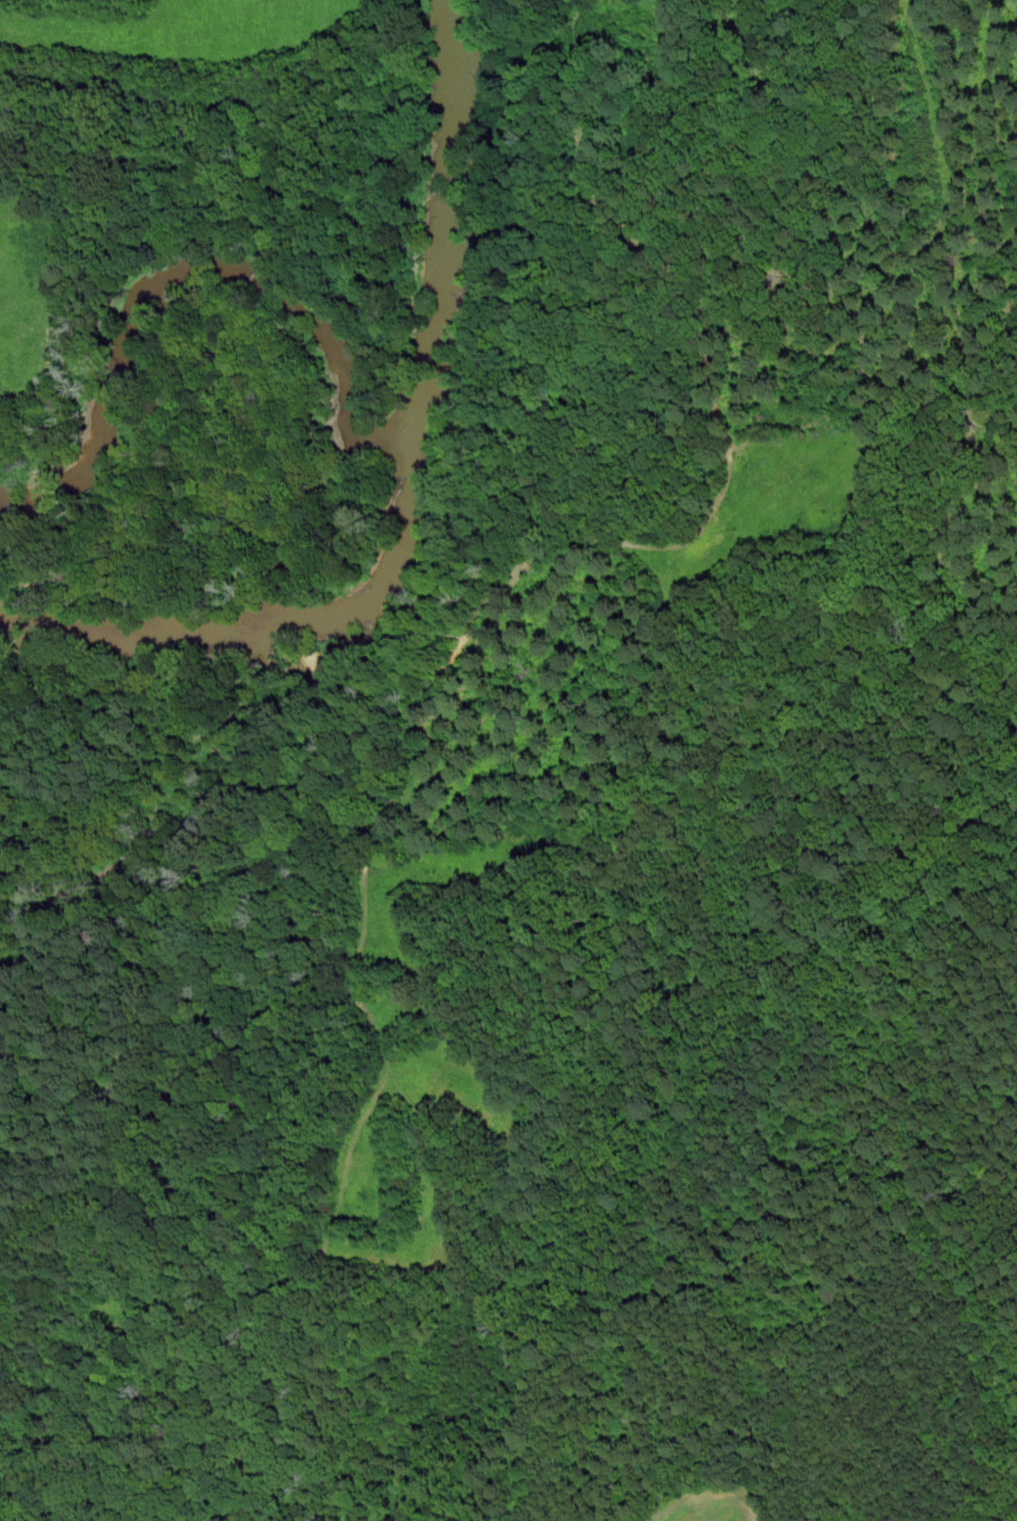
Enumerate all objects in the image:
river: (192, 279)
road: (670, 330)
river: (409, 498)
road: (656, 541)
road: (476, 625)
road: (356, 813)
road: (384, 824)
road: (369, 1009)
road: (356, 1135)
road: (475, 1283)
road: (145, 1328)

